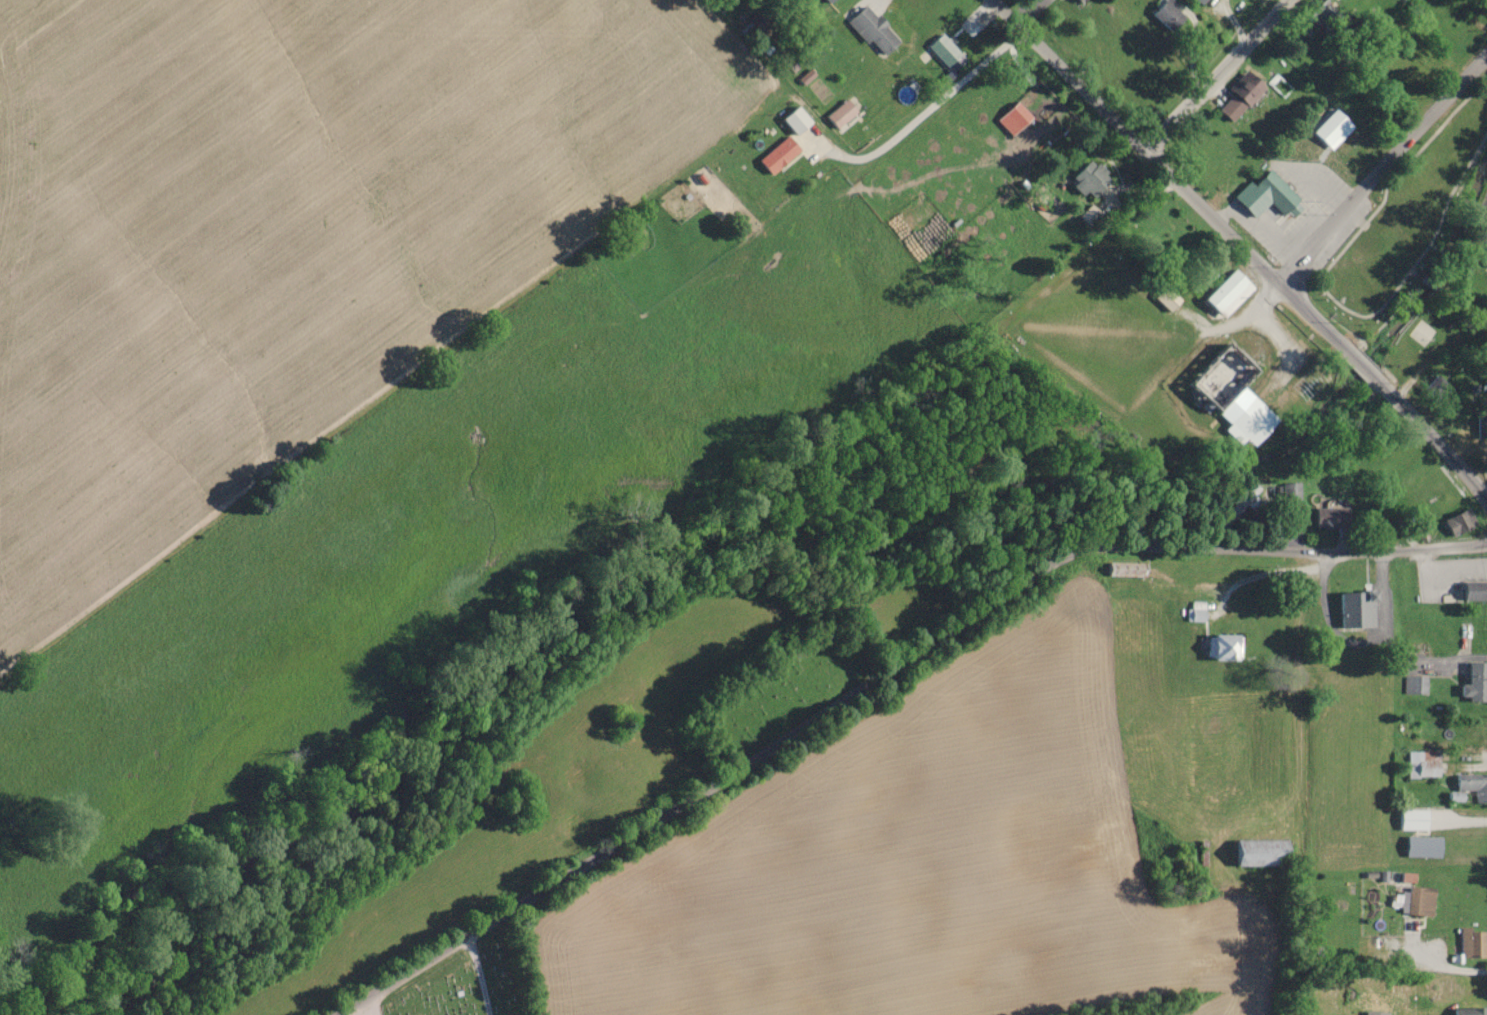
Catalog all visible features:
building: (825, 1)
building: (1076, 1)
building: (1082, 1)
building: (1200, 2)
building: (1444, 10)
building: (1171, 15)
building: (756, 28)
building: (867, 29)
building: (945, 51)
road: (1206, 78)
building: (1236, 90)
building: (842, 114)
building: (1009, 119)
building: (1327, 129)
building: (780, 156)
road: (1382, 165)
building: (1086, 180)
building: (1266, 196)
park: (1412, 245)
building: (1482, 249)
road: (1243, 250)
park: (1318, 271)
building: (1223, 293)
road: (1323, 294)
park: (1416, 331)
building: (1218, 377)
building: (1428, 385)
building: (1245, 421)
building: (1482, 427)
building: (1484, 461)
building: (1285, 491)
building: (1234, 504)
building: (1326, 515)
building: (1454, 520)
building: (1121, 570)
building: (1471, 590)
building: (1351, 611)
building: (1191, 612)
building: (1219, 646)
road: (878, 672)
building: (1471, 682)
building: (1415, 686)
park: (767, 687)
building: (1423, 765)
building: (1471, 785)
building: (1408, 820)
building: (1416, 845)
building: (1263, 853)
building: (1415, 901)
building: (1464, 944)
park: (453, 989)
building: (1465, 1011)

